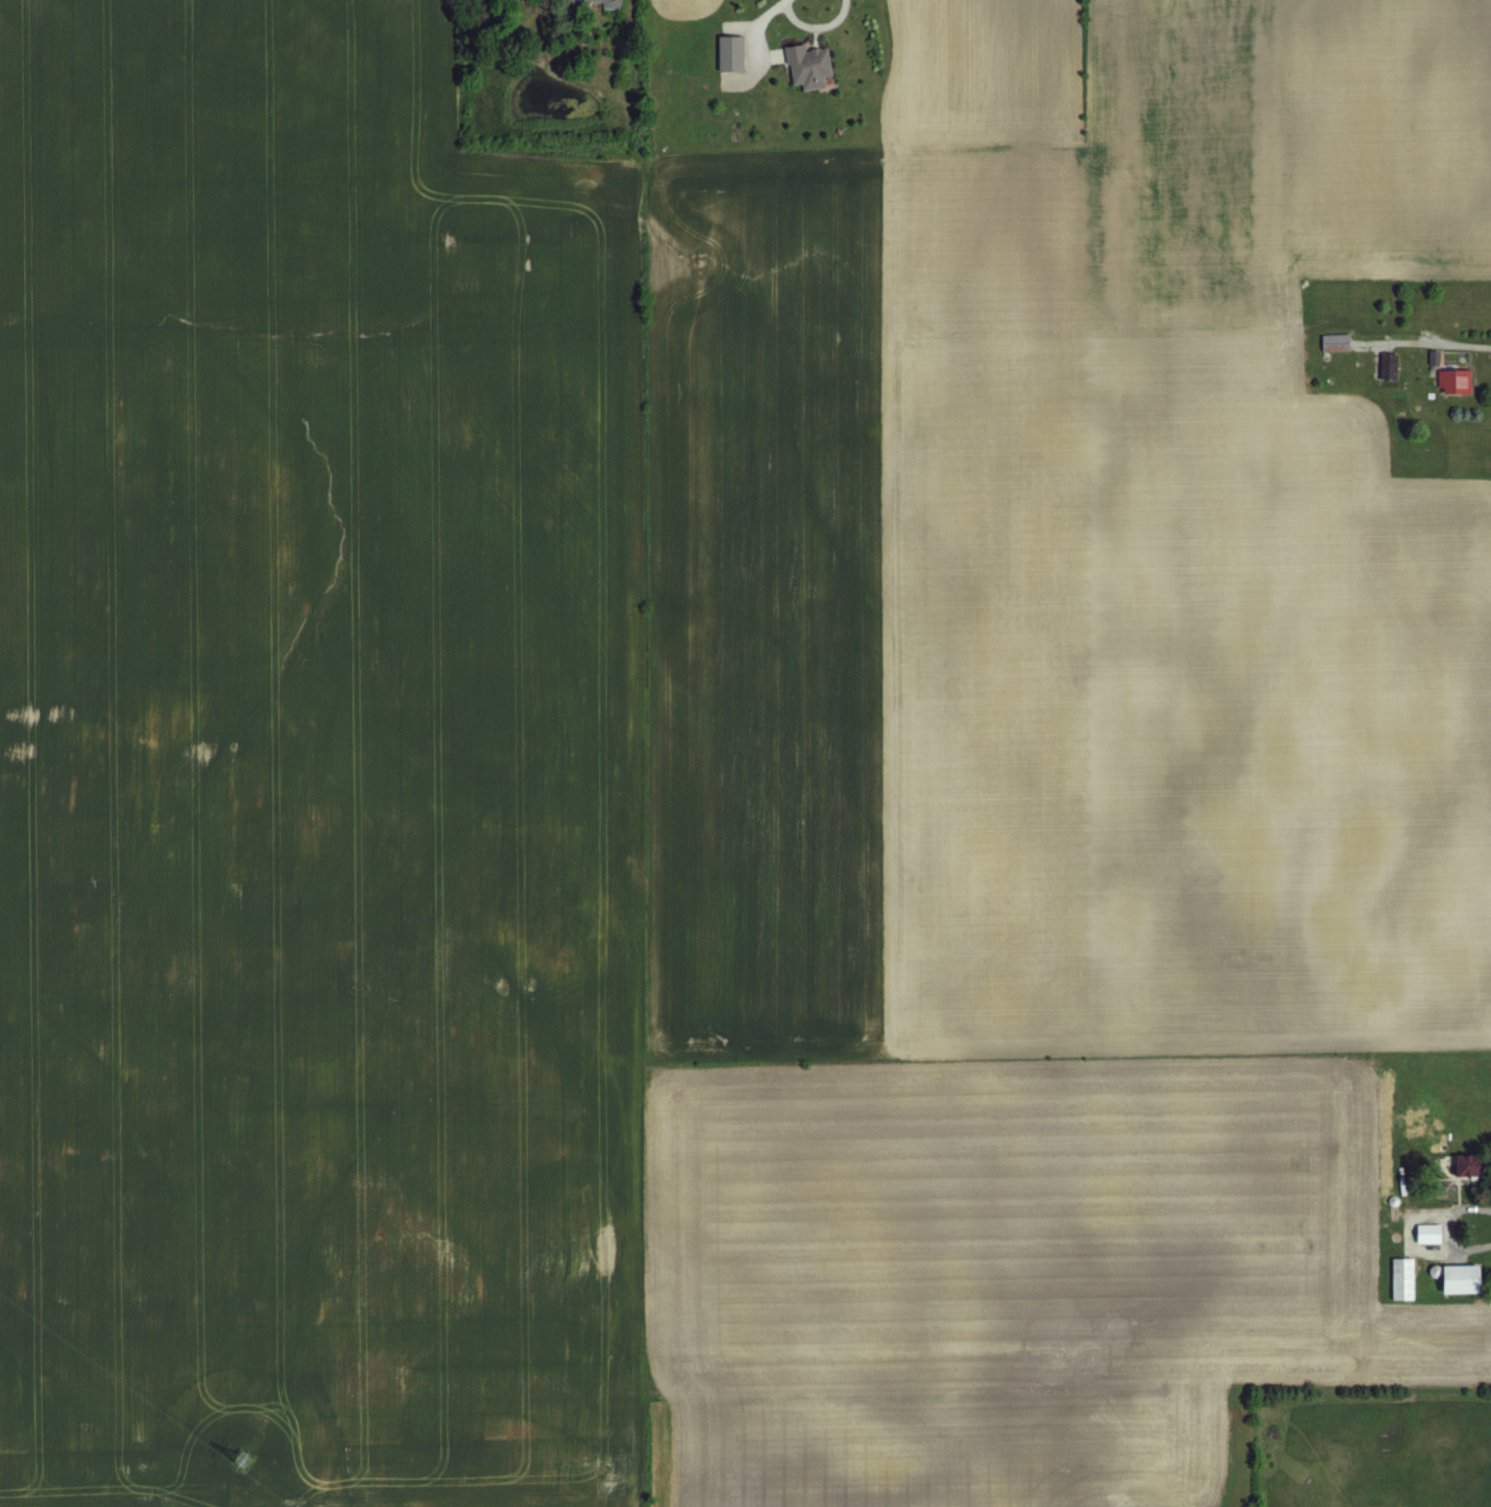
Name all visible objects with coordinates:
building: (576, 3)
road: (815, 25)
building: (729, 51)
building: (806, 64)
building: (1334, 341)
road: (1465, 343)
building: (1387, 368)
building: (1453, 380)
building: (1458, 1163)
road: (1444, 1228)
building: (1426, 1231)
building: (1400, 1277)
building: (1457, 1277)
power tower: (236, 1457)

